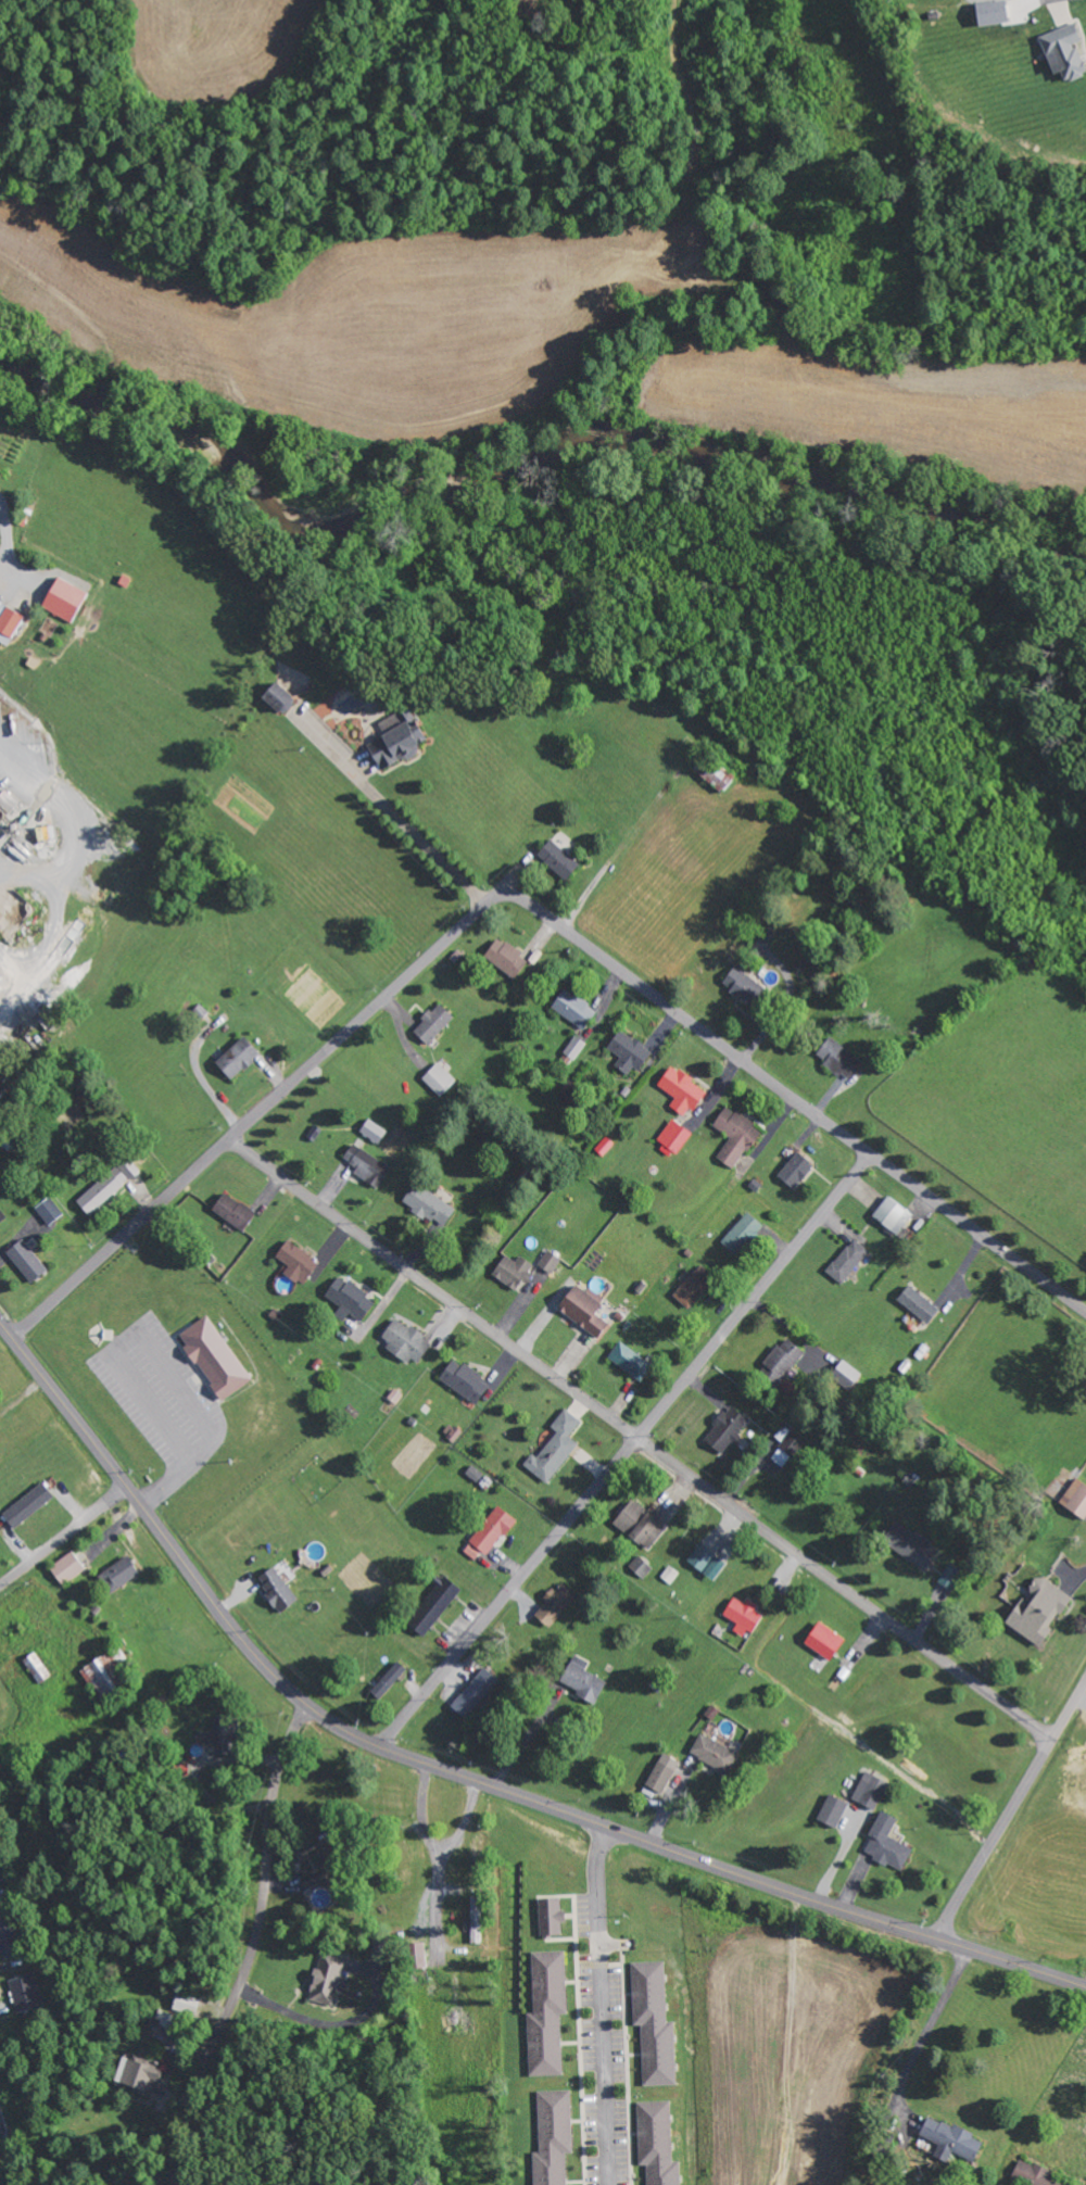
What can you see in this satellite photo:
building: (990, 13)
building: (1062, 51)
road: (5, 538)
building: (63, 599)
building: (9, 623)
building: (277, 697)
building: (395, 741)
building: (714, 773)
building: (557, 859)
building: (505, 957)
building: (742, 985)
building: (573, 1008)
building: (431, 1023)
building: (574, 1048)
building: (627, 1051)
building: (236, 1058)
building: (837, 1058)
building: (439, 1078)
building: (680, 1090)
road: (787, 1095)
road: (249, 1120)
building: (371, 1131)
building: (734, 1135)
building: (673, 1136)
building: (367, 1165)
building: (794, 1171)
building: (106, 1186)
building: (428, 1204)
building: (48, 1210)
building: (232, 1211)
building: (892, 1215)
building: (1, 1216)
building: (741, 1234)
building: (25, 1260)
building: (846, 1261)
building: (295, 1262)
building: (548, 1262)
building: (513, 1272)
building: (692, 1286)
building: (349, 1297)
building: (918, 1303)
building: (583, 1309)
building: (405, 1341)
building: (213, 1357)
building: (629, 1361)
building: (780, 1361)
building: (463, 1380)
building: (725, 1430)
road: (641, 1436)
building: (554, 1448)
building: (787, 1449)
road: (623, 1451)
building: (1075, 1499)
building: (27, 1505)
building: (642, 1523)
building: (488, 1534)
road: (63, 1536)
building: (909, 1546)
building: (705, 1562)
building: (640, 1567)
building: (65, 1568)
building: (117, 1575)
building: (950, 1577)
building: (276, 1589)
building: (555, 1604)
building: (432, 1606)
building: (1038, 1611)
building: (742, 1616)
building: (823, 1641)
building: (388, 1680)
building: (582, 1682)
building: (475, 1693)
building: (219, 1736)
building: (712, 1754)
building: (661, 1773)
road: (459, 1776)
building: (870, 1791)
road: (1009, 1808)
building: (832, 1811)
building: (886, 1843)
building: (550, 1918)
building: (5, 1933)
road: (252, 1947)
building: (417, 1957)
building: (326, 1979)
building: (24, 1993)
building: (185, 2004)
road: (602, 2005)
building: (546, 2013)
building: (653, 2023)
road: (783, 2039)
building: (136, 2076)
building: (552, 2137)
building: (950, 2138)
building: (656, 2143)
road: (1079, 2147)
road: (9, 2149)
building: (1037, 2176)

